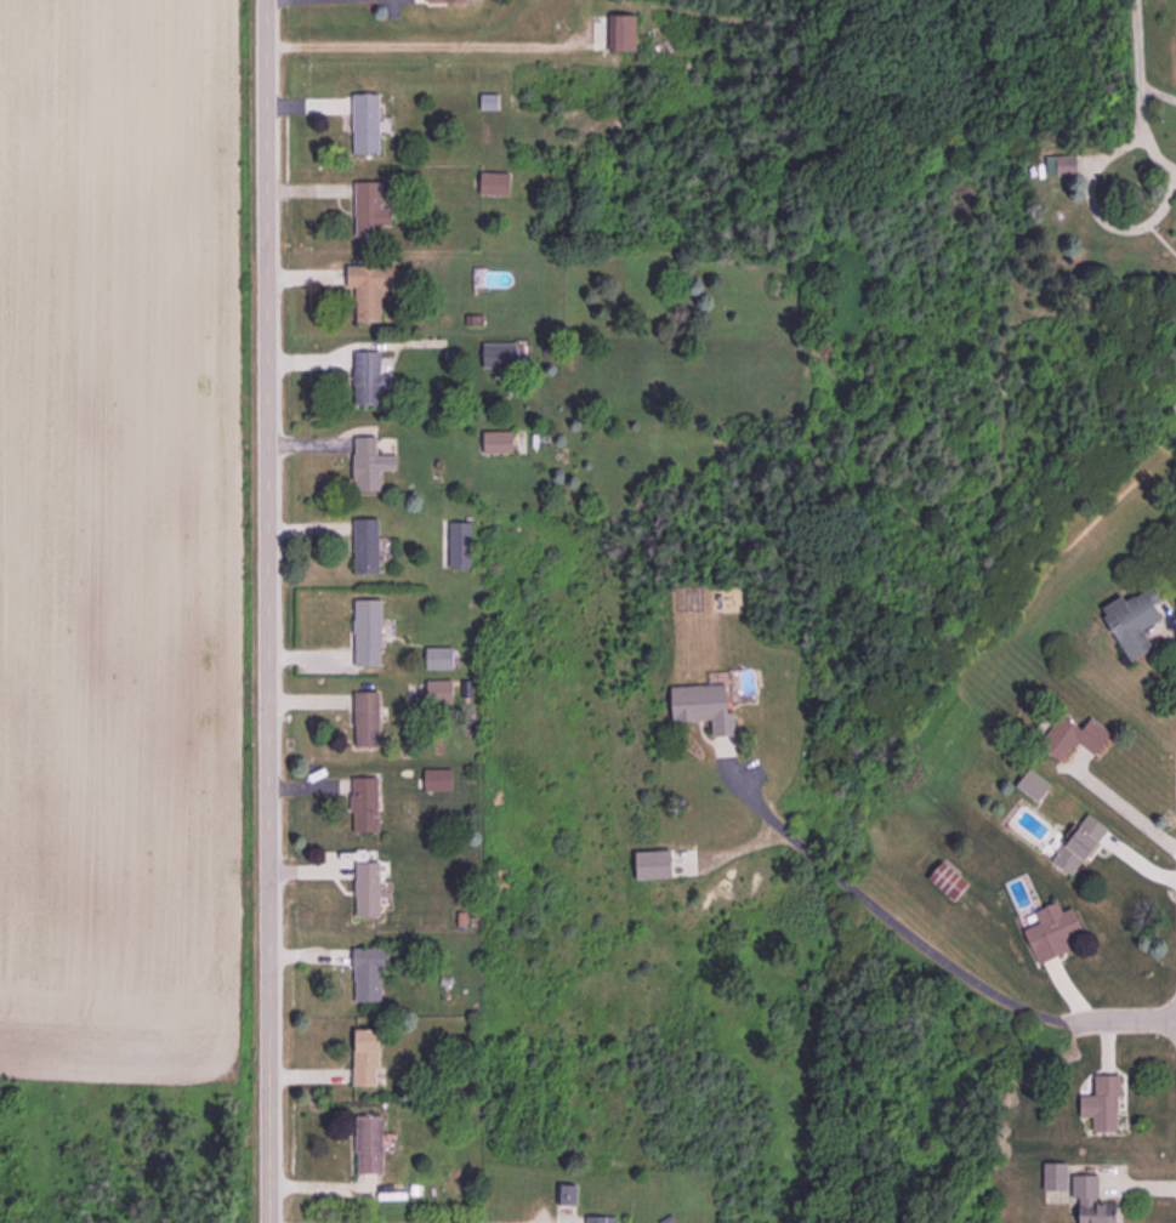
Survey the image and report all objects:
building: (443, 0)
building: (620, 32)
road: (1137, 75)
building: (365, 123)
building: (369, 207)
building: (369, 288)
building: (499, 354)
building: (368, 377)
building: (496, 440)
building: (369, 463)
building: (459, 544)
road: (268, 611)
building: (1132, 620)
building: (367, 632)
building: (438, 689)
building: (701, 706)
building: (365, 717)
building: (1072, 735)
building: (1033, 784)
building: (364, 803)
building: (1078, 843)
building: (367, 888)
road: (882, 916)
building: (1051, 931)
building: (367, 973)
road: (1121, 1017)
building: (365, 1057)
building: (1103, 1108)
building: (368, 1144)
building: (1053, 1174)
building: (1091, 1200)
building: (596, 1218)

